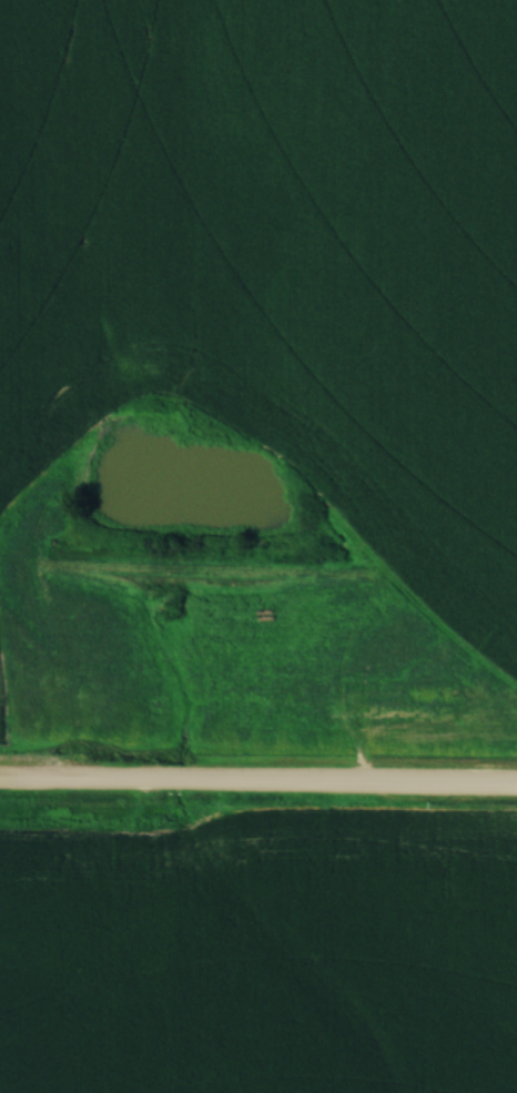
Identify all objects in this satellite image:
road: (257, 779)

